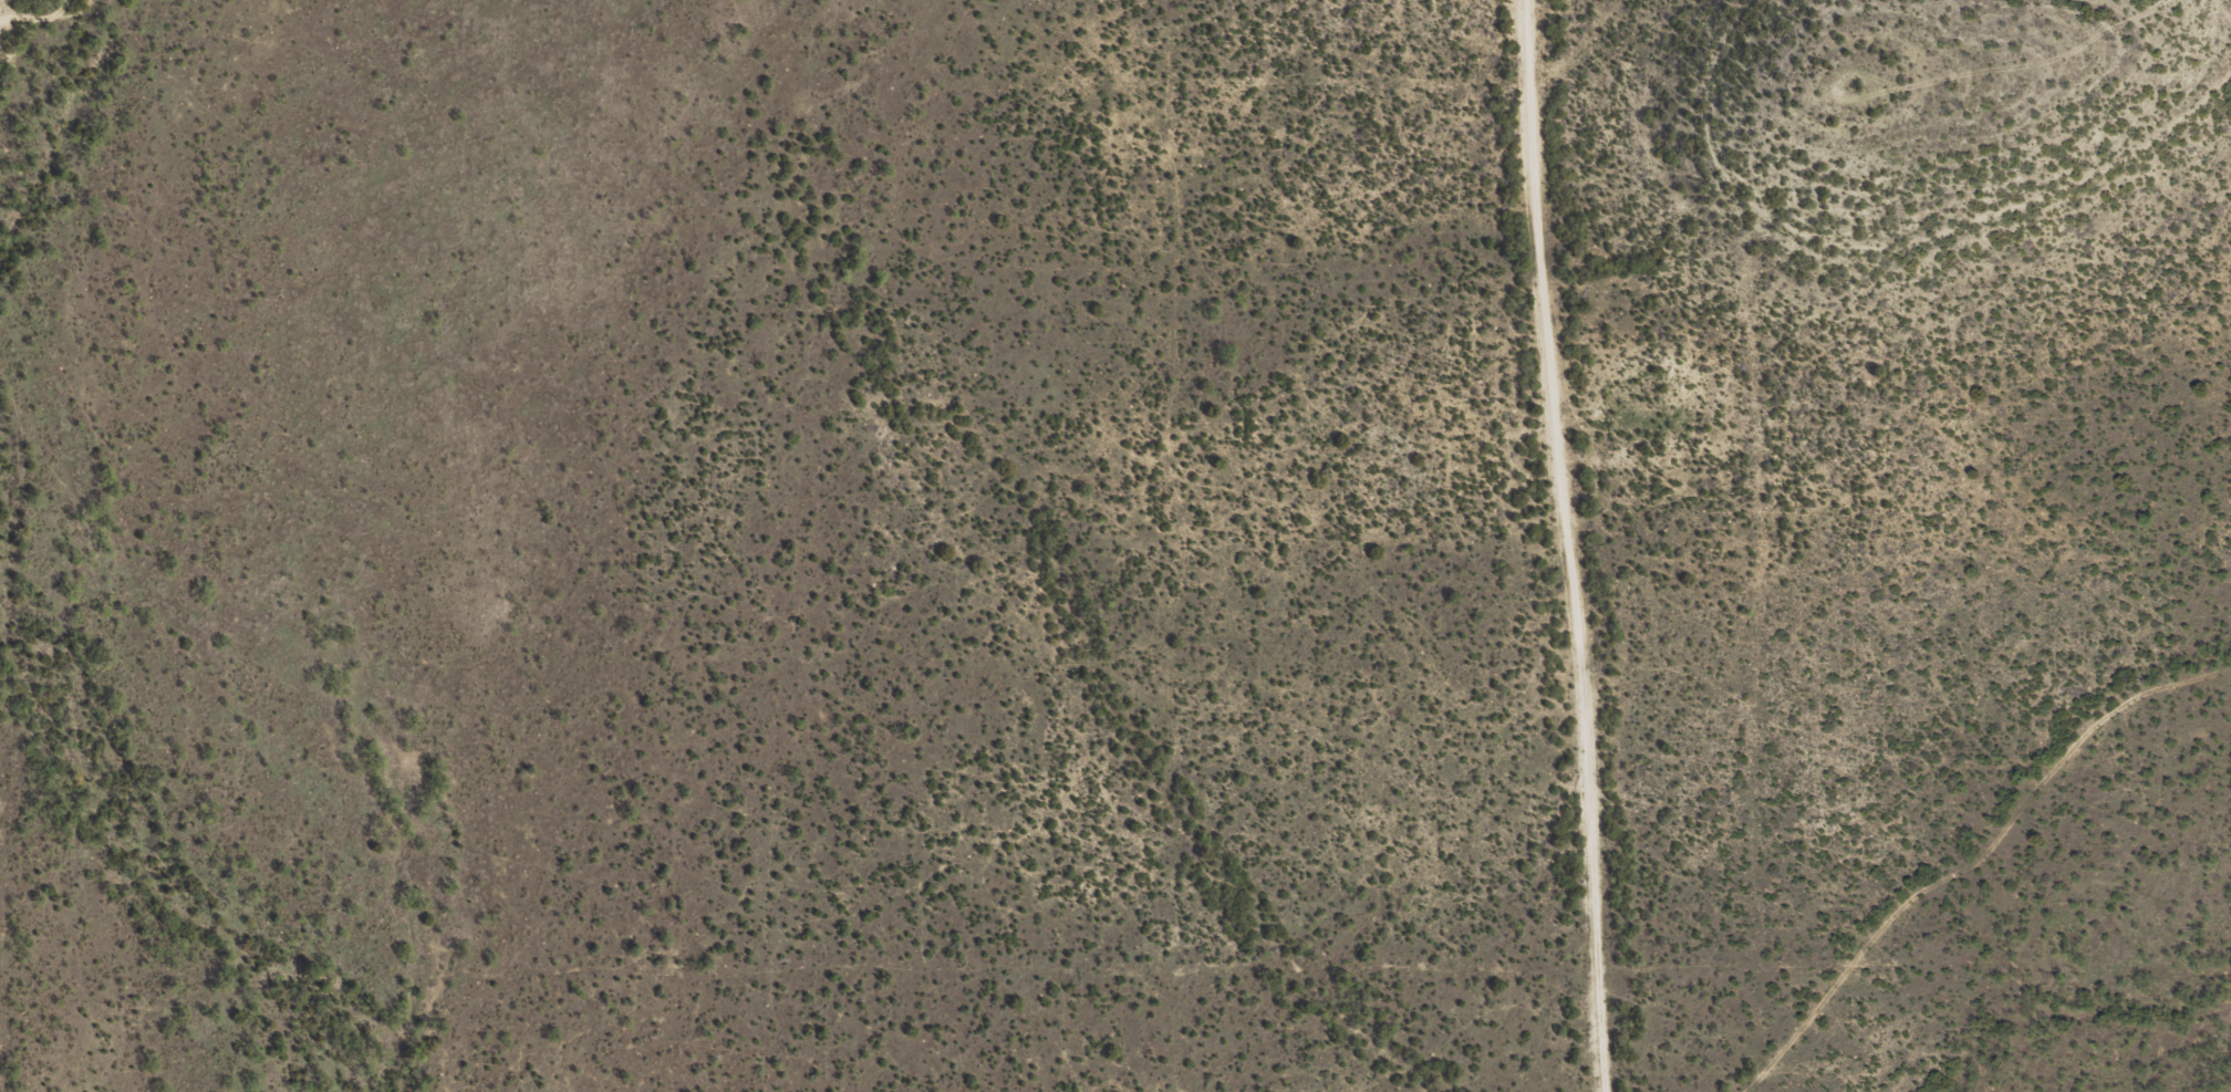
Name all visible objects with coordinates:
road: (1617, 543)

